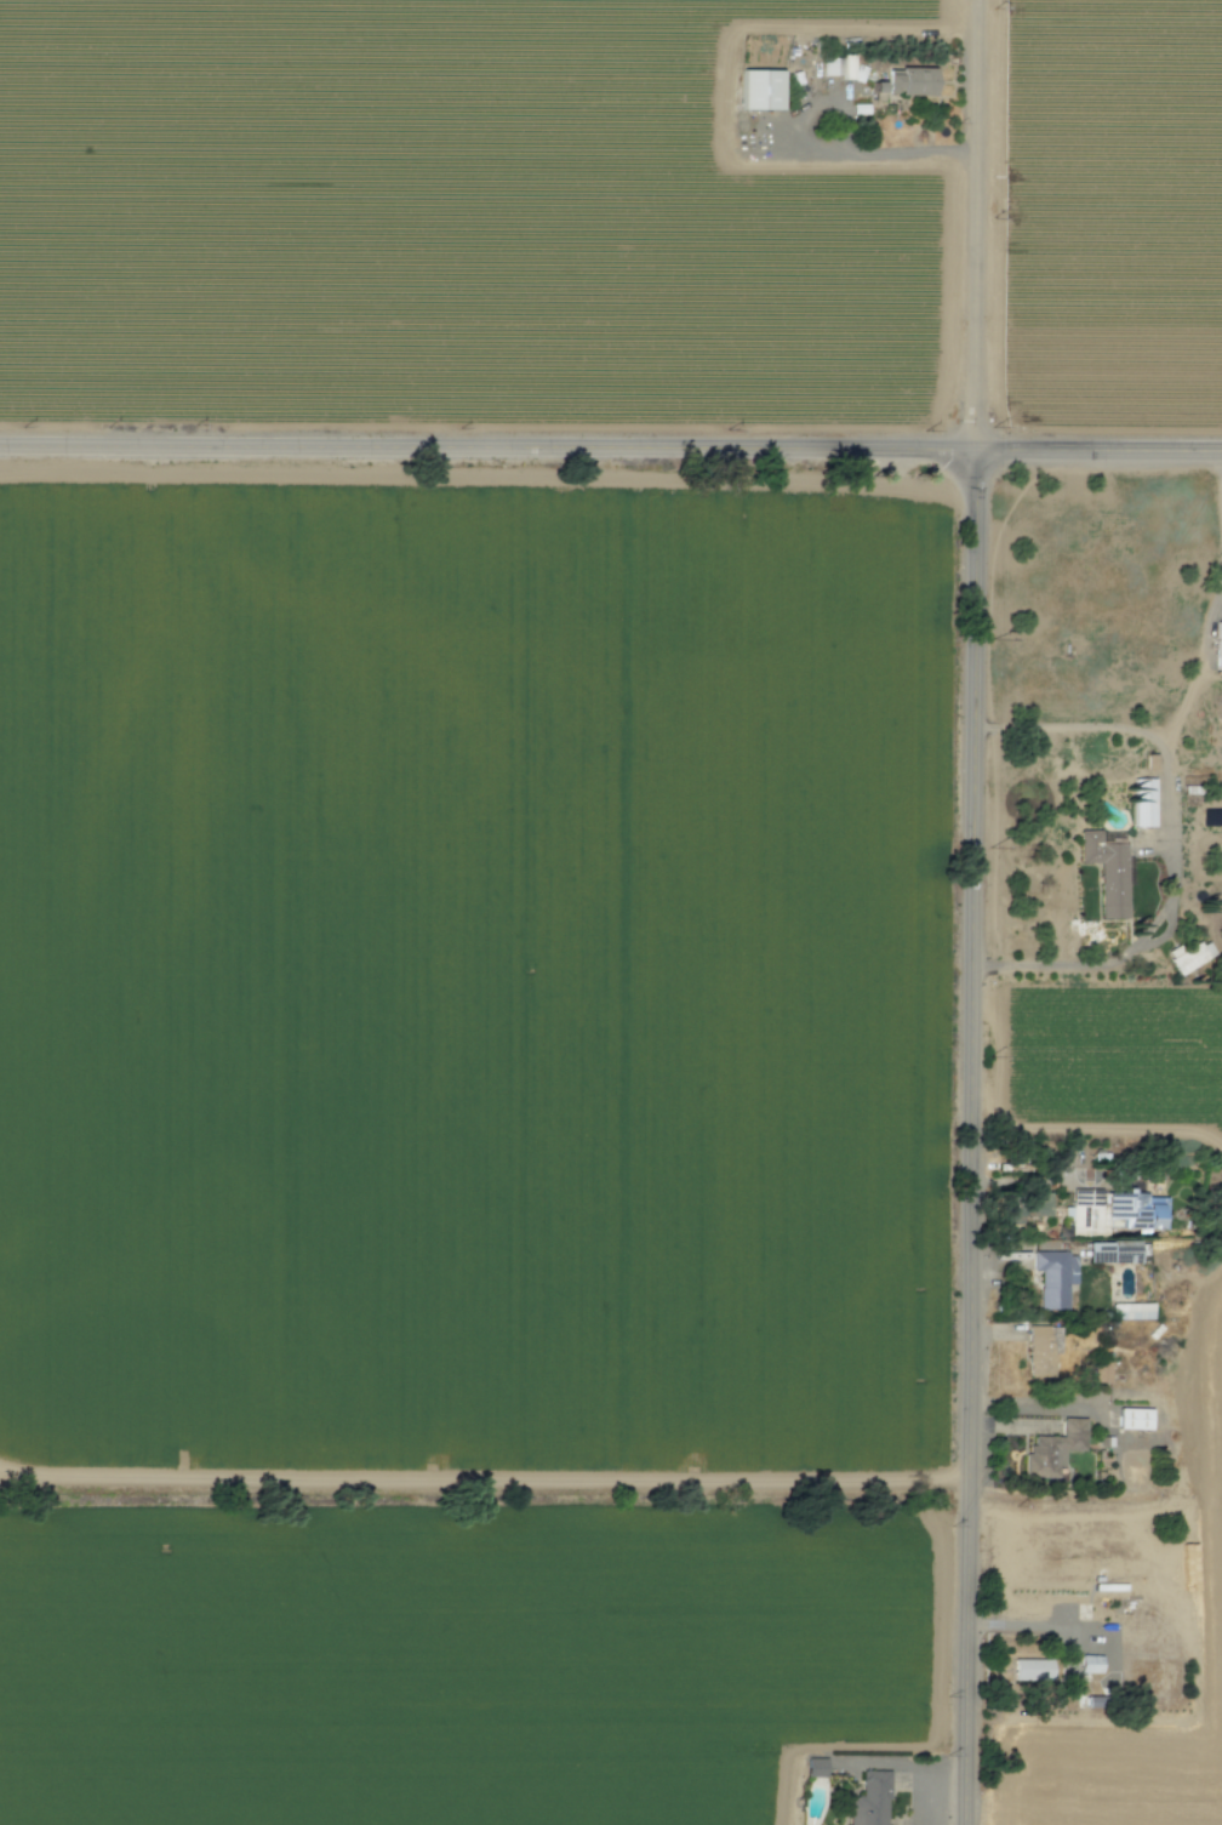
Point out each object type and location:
building: (832, 65)
building: (907, 82)
building: (763, 89)
road: (875, 154)
road: (611, 450)
building: (1220, 646)
building: (1146, 803)
road: (1170, 838)
building: (1108, 872)
road: (975, 912)
building: (1188, 957)
building: (1117, 1211)
building: (1115, 1253)
building: (1056, 1278)
building: (1132, 1311)
building: (1041, 1348)
building: (1103, 1371)
building: (1136, 1419)
building: (1056, 1449)
building: (1091, 1665)
building: (1033, 1670)
building: (817, 1768)
building: (870, 1801)

